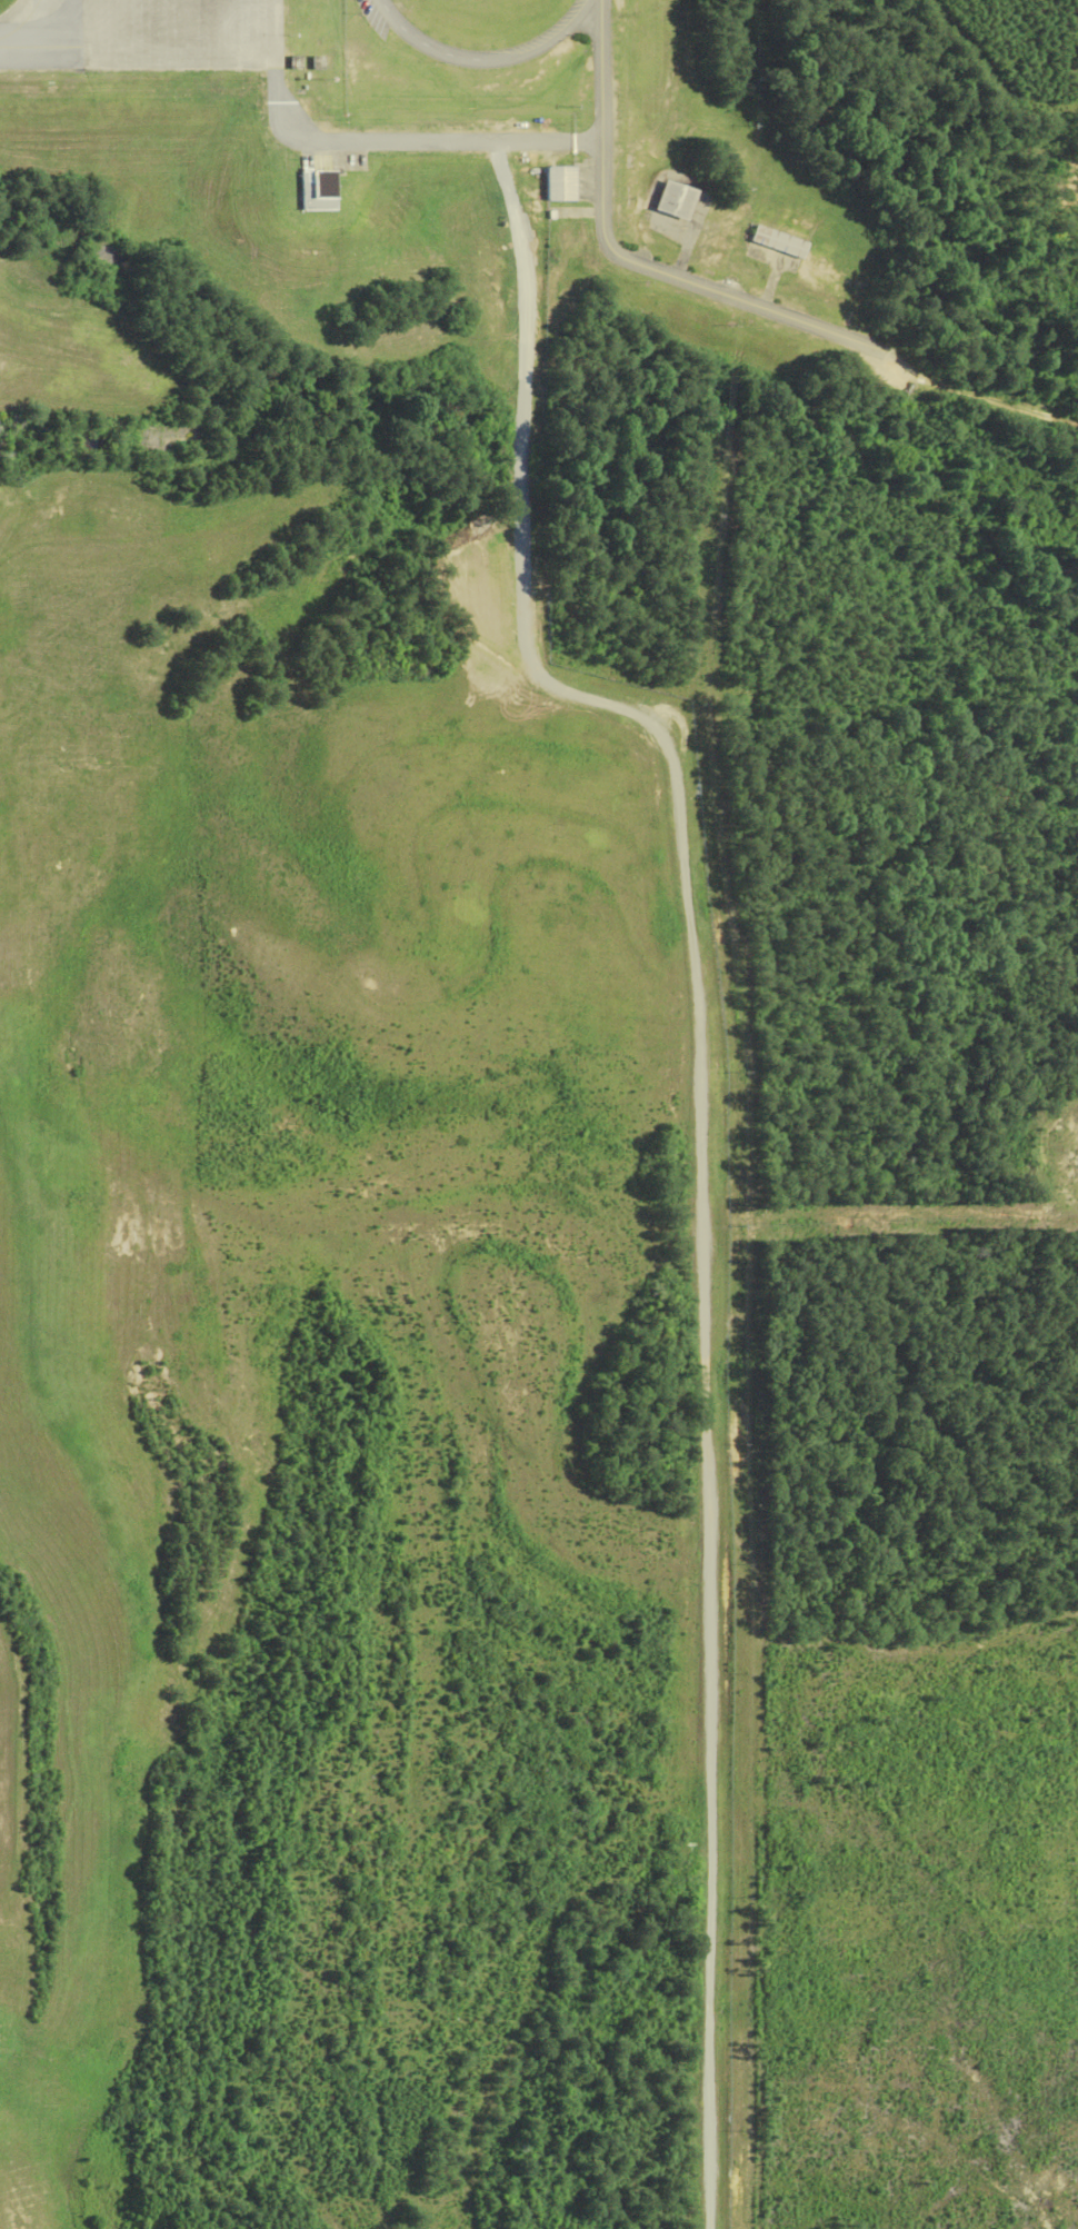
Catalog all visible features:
road: (601, 0)
parking lot: (377, 17)
airport apron: (161, 34)
road: (561, 36)
airport taxiway: (18, 48)
road: (438, 50)
road: (411, 140)
building: (559, 182)
building: (316, 189)
building: (675, 200)
building: (778, 241)
road: (629, 260)
road: (897, 365)
road: (703, 1137)

